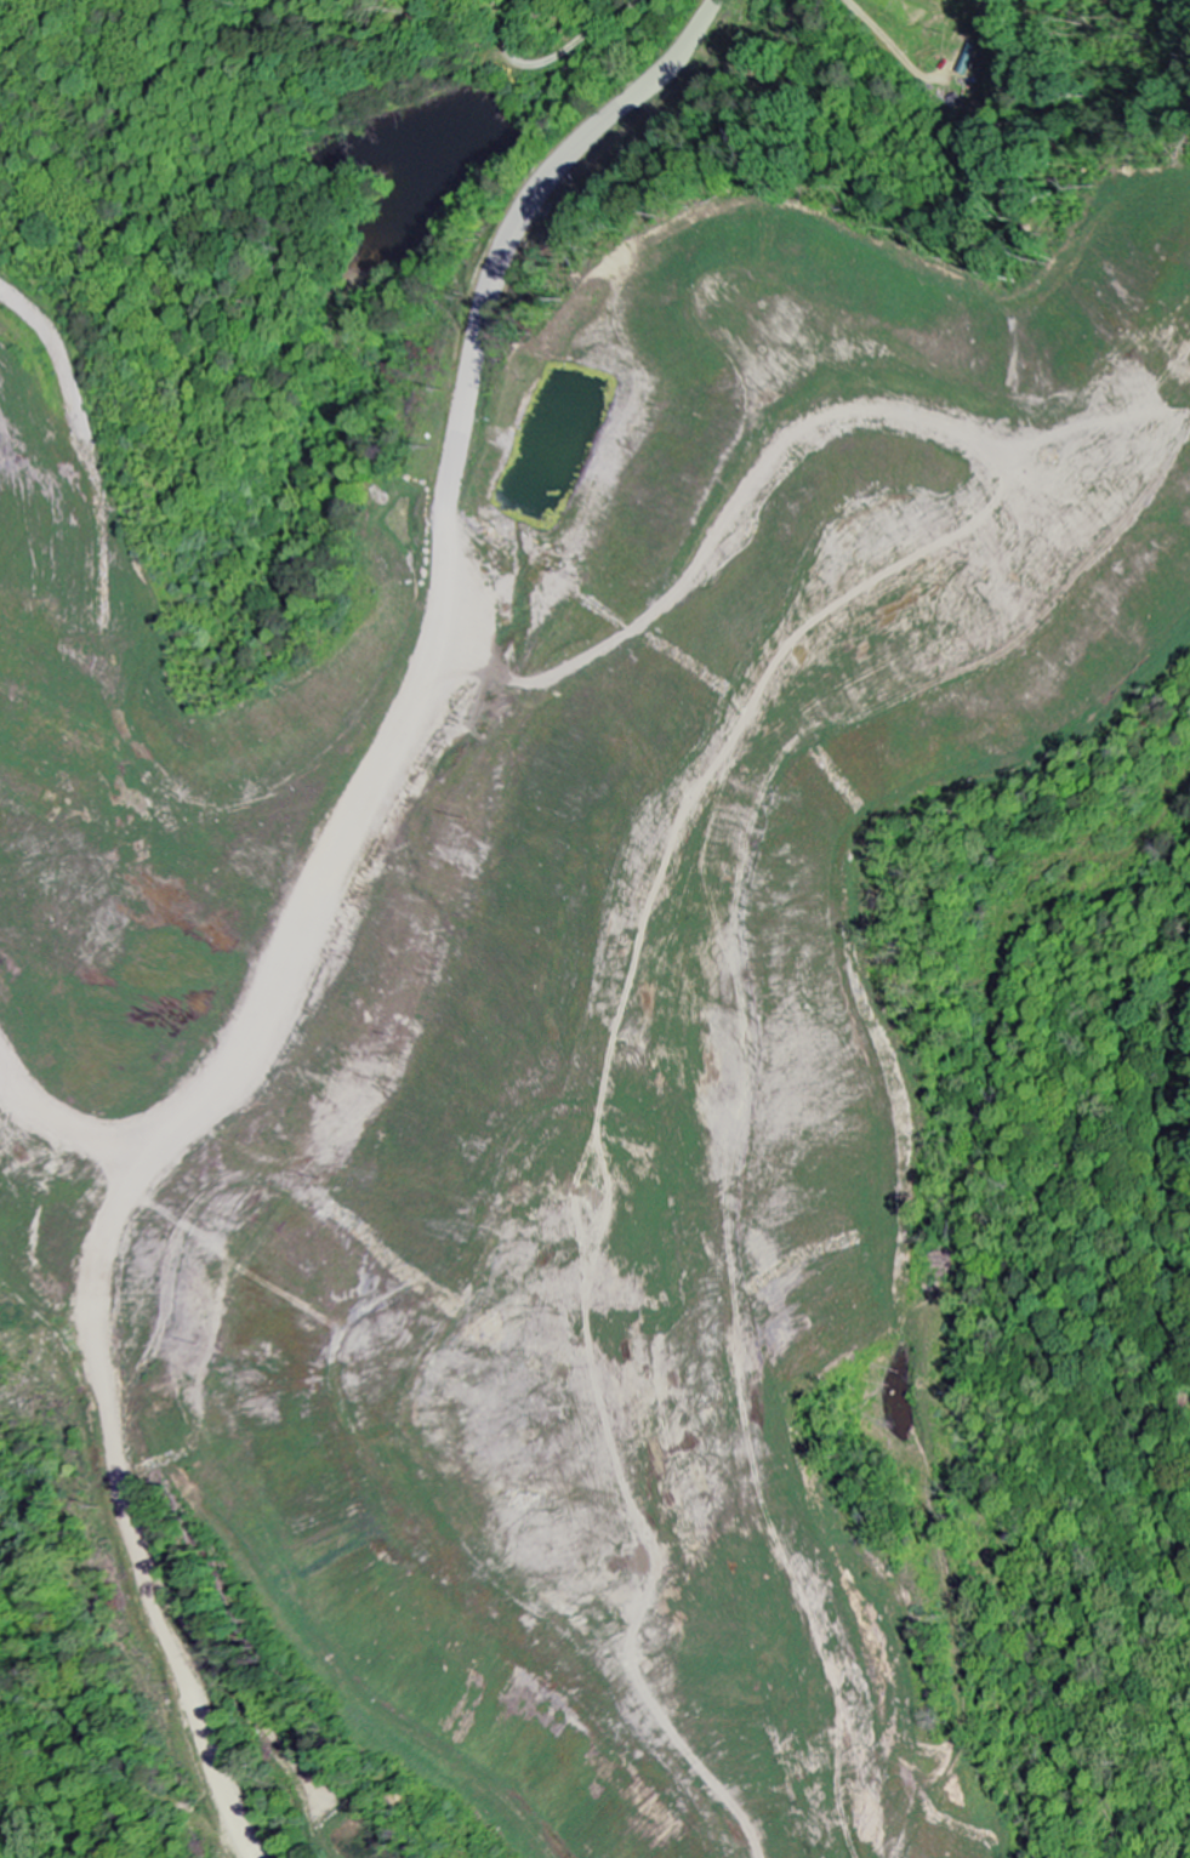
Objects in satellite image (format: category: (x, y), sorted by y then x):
road: (172, 865)
road: (51, 923)
road: (82, 1517)

